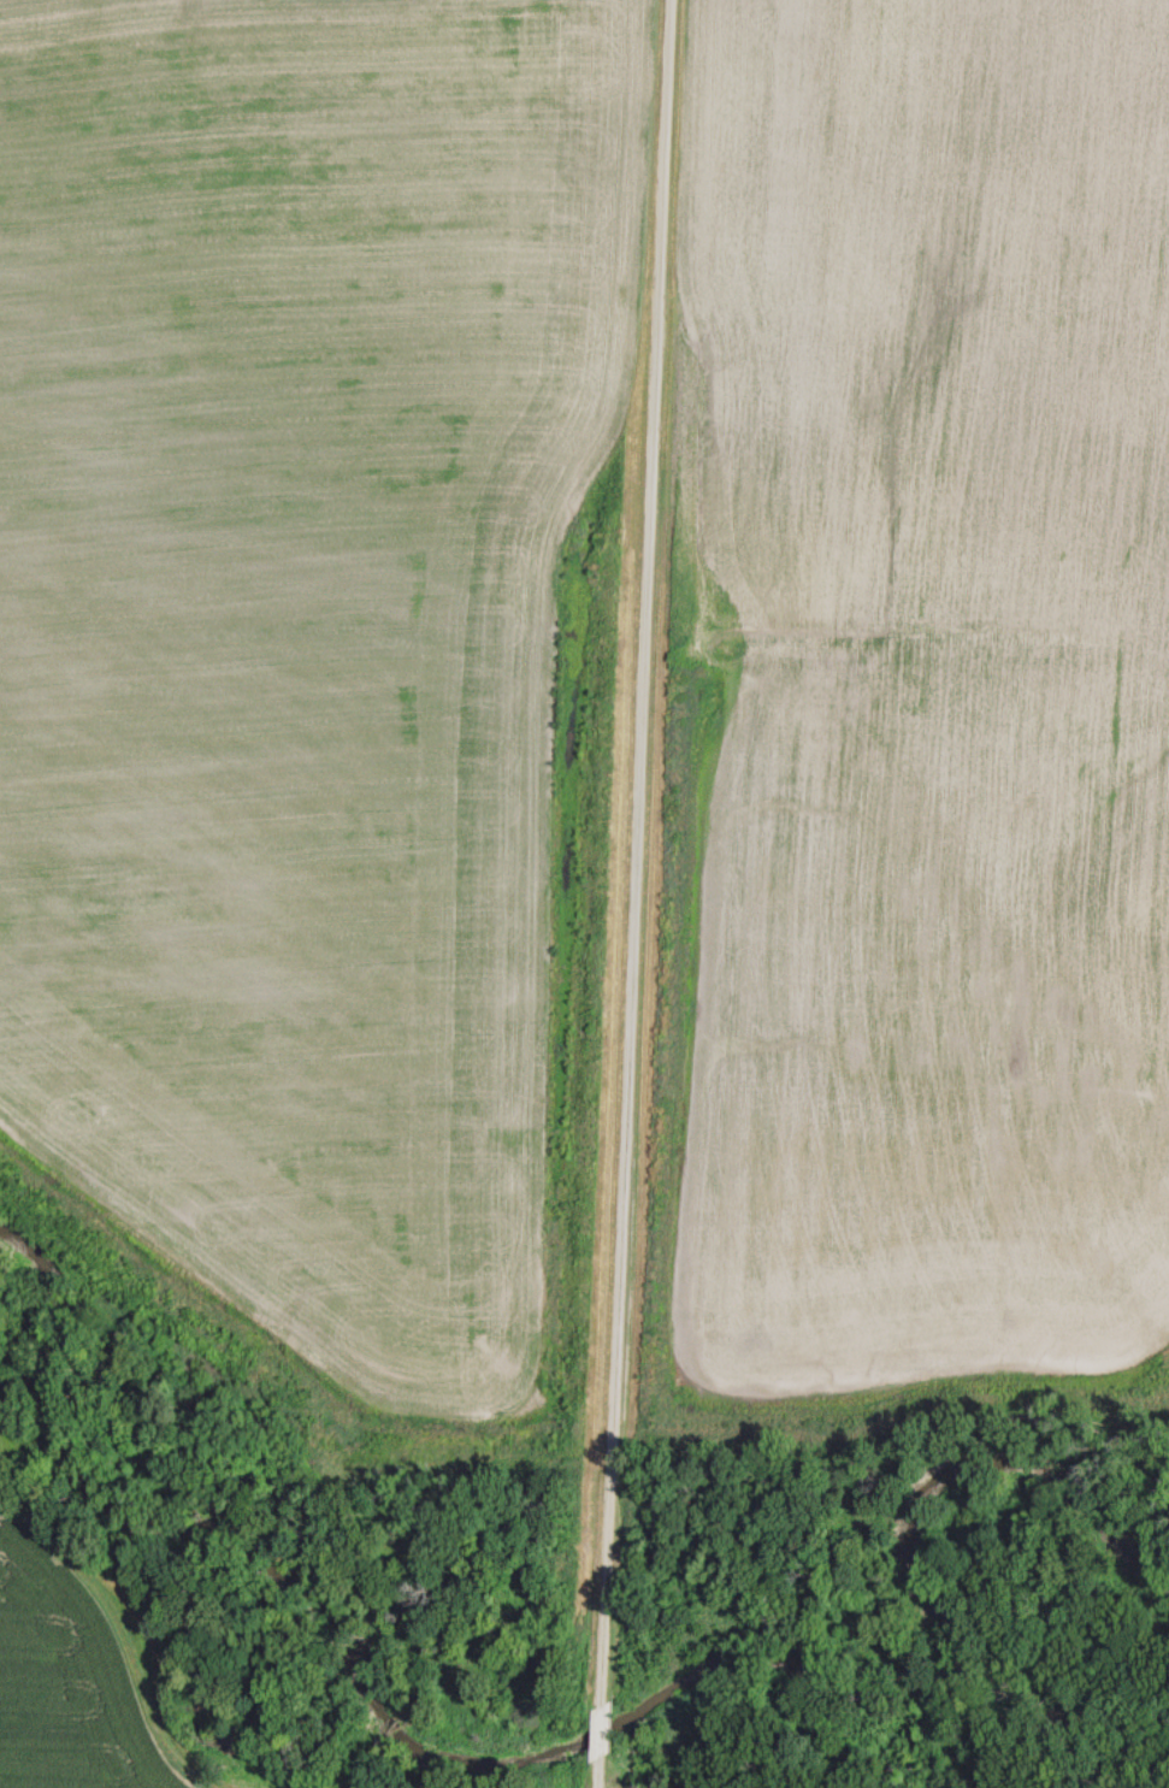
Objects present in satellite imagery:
road: (634, 893)

